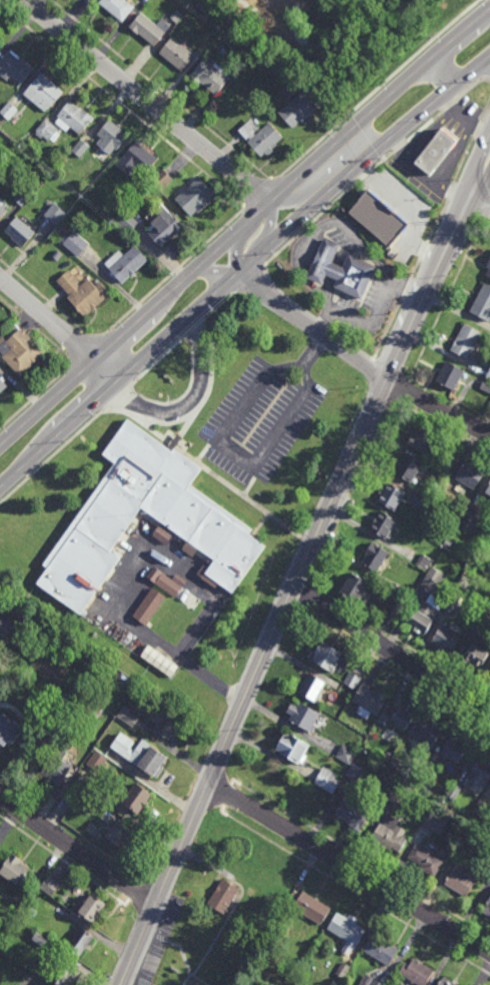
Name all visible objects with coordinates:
building: (117, 8)
building: (183, 9)
road: (267, 11)
building: (176, 16)
building: (225, 21)
building: (232, 28)
building: (147, 29)
road: (460, 34)
building: (181, 35)
building: (0, 41)
road: (412, 54)
building: (176, 55)
building: (14, 69)
road: (472, 70)
road: (443, 71)
road: (478, 72)
building: (210, 77)
road: (472, 87)
building: (290, 89)
road: (163, 92)
building: (42, 95)
road: (123, 107)
road: (449, 107)
building: (8, 110)
building: (297, 110)
road: (158, 111)
road: (487, 113)
road: (460, 115)
building: (75, 119)
building: (256, 121)
road: (426, 127)
building: (46, 129)
building: (249, 129)
road: (479, 129)
building: (110, 139)
building: (265, 141)
road: (315, 145)
road: (401, 146)
building: (80, 147)
building: (436, 150)
road: (350, 151)
building: (136, 161)
road: (383, 161)
road: (465, 161)
road: (368, 174)
building: (160, 179)
road: (451, 193)
road: (482, 194)
road: (260, 196)
building: (21, 197)
building: (193, 199)
building: (2, 212)
building: (55, 214)
road: (411, 215)
road: (489, 215)
road: (489, 217)
building: (378, 219)
building: (126, 221)
road: (312, 222)
road: (437, 224)
building: (161, 227)
building: (19, 233)
road: (350, 236)
building: (74, 242)
road: (216, 249)
road: (344, 250)
road: (423, 250)
building: (57, 255)
building: (124, 264)
road: (415, 268)
road: (438, 268)
building: (488, 268)
building: (341, 270)
road: (335, 272)
road: (173, 273)
road: (305, 279)
road: (249, 281)
road: (227, 285)
road: (406, 291)
road: (286, 295)
road: (330, 295)
building: (84, 297)
road: (448, 297)
building: (482, 303)
road: (50, 304)
road: (299, 316)
road: (373, 321)
road: (323, 324)
road: (195, 327)
road: (59, 330)
road: (39, 331)
road: (387, 333)
building: (465, 341)
road: (134, 345)
road: (353, 346)
road: (315, 348)
road: (86, 351)
building: (19, 354)
road: (156, 362)
road: (392, 370)
building: (488, 375)
building: (450, 376)
building: (486, 385)
building: (2, 387)
road: (406, 389)
road: (82, 394)
road: (117, 397)
road: (450, 399)
road: (33, 400)
road: (190, 400)
road: (438, 408)
road: (147, 419)
road: (442, 426)
road: (182, 433)
building: (422, 439)
road: (206, 450)
road: (234, 452)
building: (448, 460)
building: (408, 469)
building: (439, 471)
building: (468, 474)
road: (218, 478)
road: (251, 481)
building: (488, 488)
building: (391, 495)
building: (422, 502)
building: (195, 519)
building: (467, 522)
building: (383, 523)
road: (260, 525)
building: (161, 535)
building: (489, 538)
road: (307, 540)
building: (448, 543)
building: (188, 549)
building: (375, 555)
building: (190, 558)
building: (190, 561)
building: (424, 562)
building: (203, 566)
building: (153, 572)
building: (179, 578)
road: (304, 579)
road: (125, 584)
building: (169, 584)
building: (356, 587)
building: (405, 592)
building: (188, 599)
building: (427, 603)
building: (149, 605)
building: (451, 605)
building: (396, 607)
building: (83, 612)
building: (482, 620)
building: (7, 623)
road: (374, 634)
building: (118, 636)
building: (445, 638)
road: (399, 643)
road: (366, 645)
road: (391, 653)
building: (476, 653)
building: (68, 655)
building: (326, 655)
building: (158, 660)
building: (488, 674)
building: (352, 680)
road: (252, 682)
building: (311, 686)
building: (345, 689)
road: (426, 693)
building: (369, 700)
building: (93, 708)
building: (302, 715)
building: (127, 716)
building: (398, 716)
building: (58, 723)
building: (164, 724)
building: (6, 728)
building: (427, 733)
building: (292, 747)
building: (391, 747)
building: (454, 749)
building: (400, 752)
building: (140, 754)
building: (345, 754)
building: (96, 762)
building: (56, 767)
building: (354, 771)
building: (480, 772)
building: (426, 774)
road: (224, 775)
building: (326, 779)
building: (398, 784)
building: (454, 790)
building: (73, 794)
building: (394, 794)
building: (137, 798)
road: (211, 806)
building: (480, 808)
building: (351, 813)
building: (428, 820)
building: (435, 823)
road: (70, 830)
building: (389, 833)
building: (120, 834)
building: (465, 841)
building: (0, 846)
road: (77, 851)
road: (362, 858)
building: (425, 859)
road: (65, 863)
road: (349, 867)
building: (13, 869)
building: (489, 873)
building: (489, 875)
building: (463, 880)
building: (49, 886)
road: (150, 887)
road: (355, 893)
road: (135, 895)
building: (222, 896)
building: (52, 906)
building: (311, 907)
building: (92, 908)
building: (487, 908)
road: (139, 915)
building: (284, 922)
building: (346, 929)
building: (40, 939)
building: (79, 942)
building: (381, 949)
building: (342, 970)
building: (417, 972)
building: (63, 975)
building: (369, 981)
building: (446, 982)

